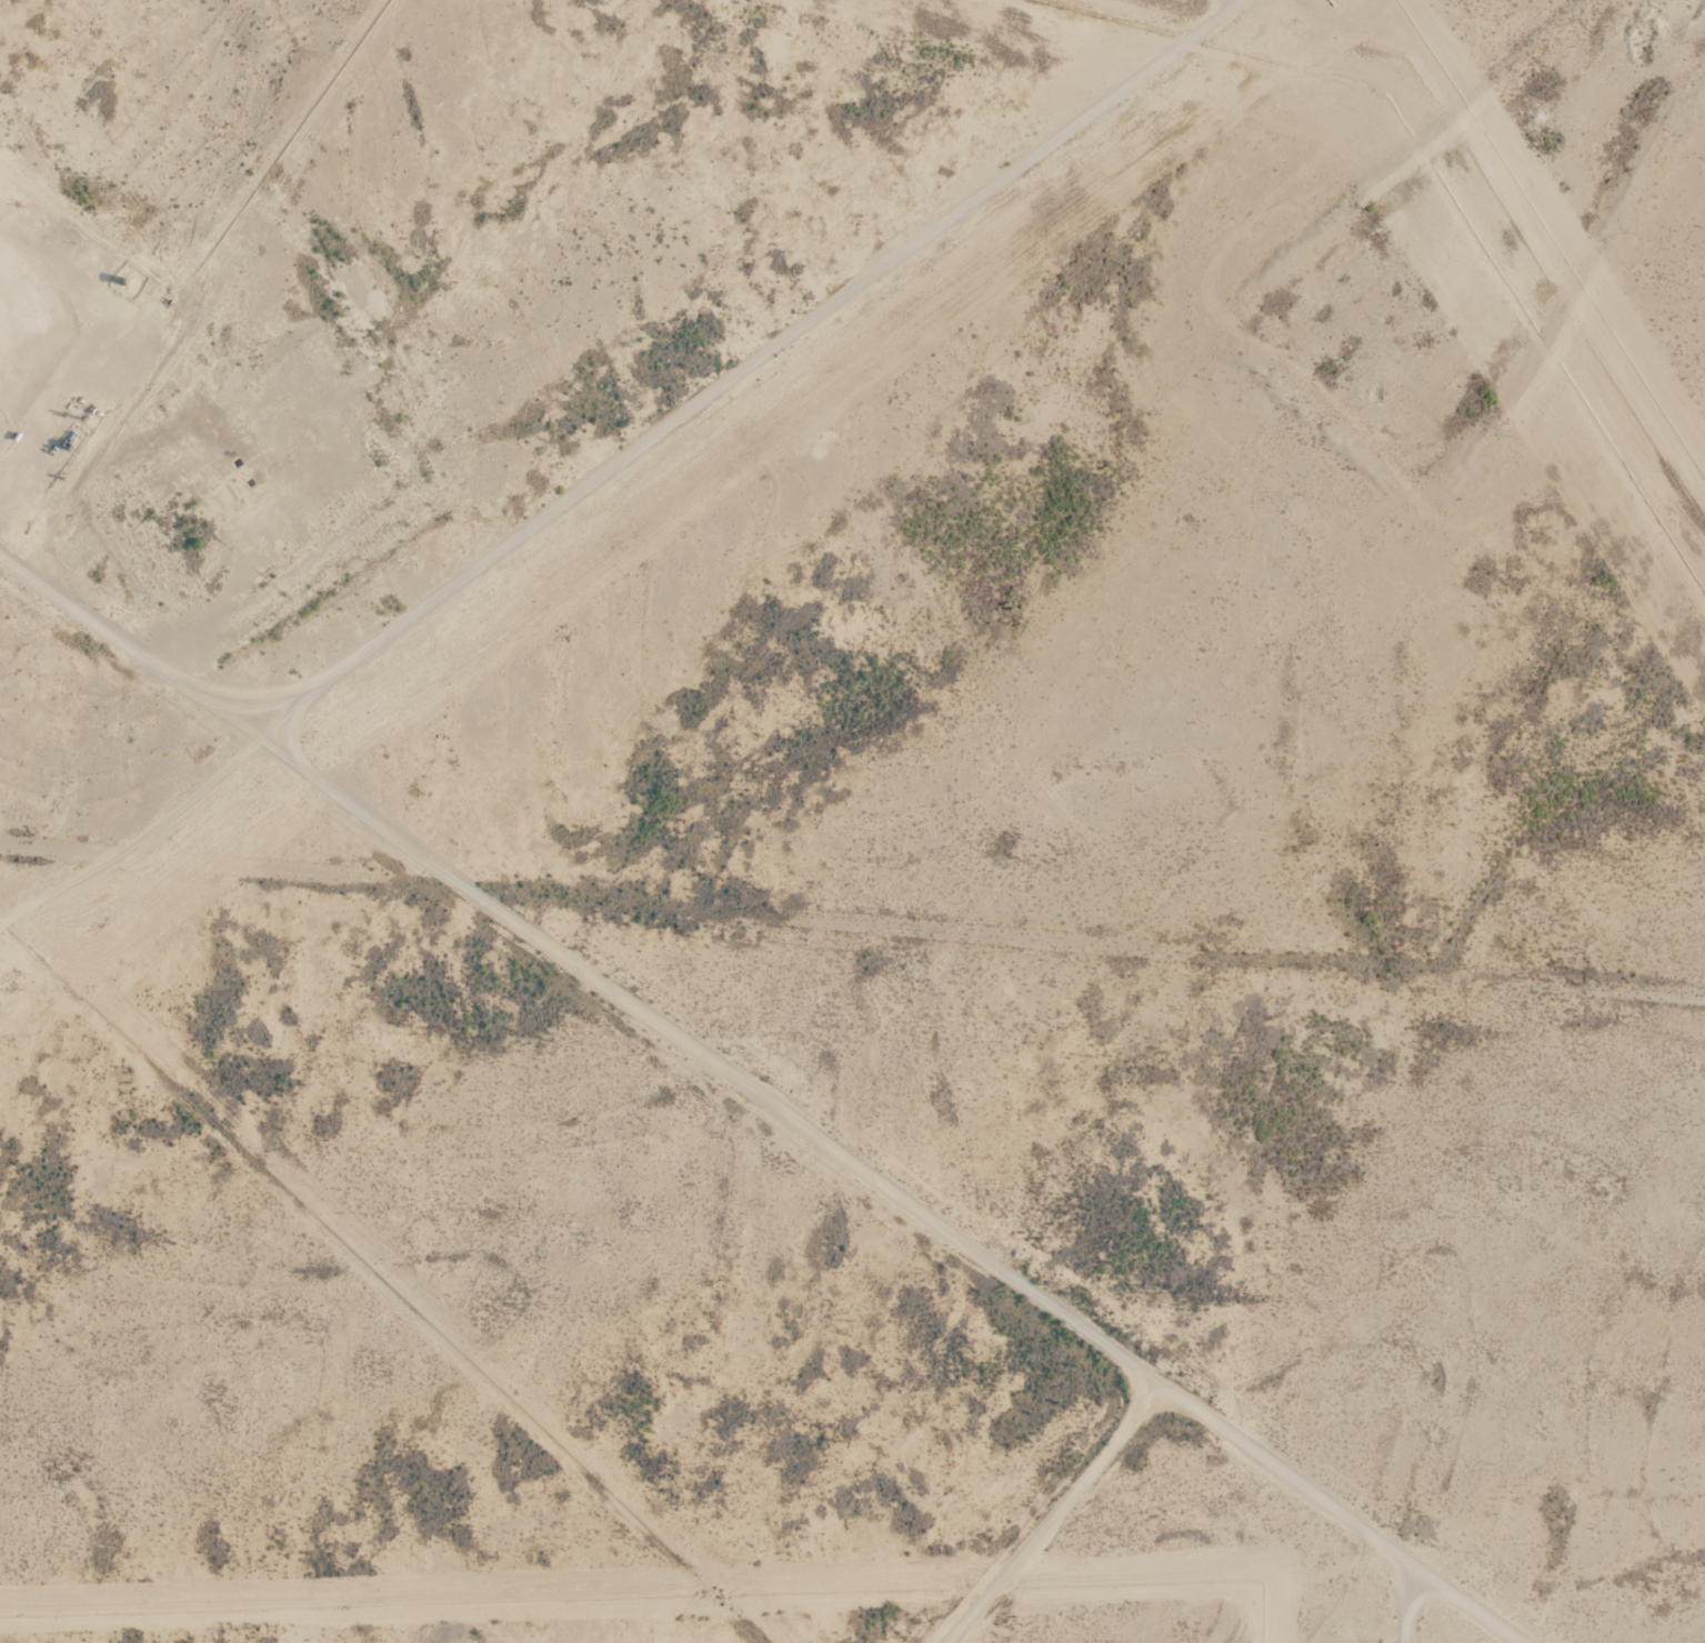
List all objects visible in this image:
road: (629, 454)
road: (881, 1172)
road: (1057, 1513)

